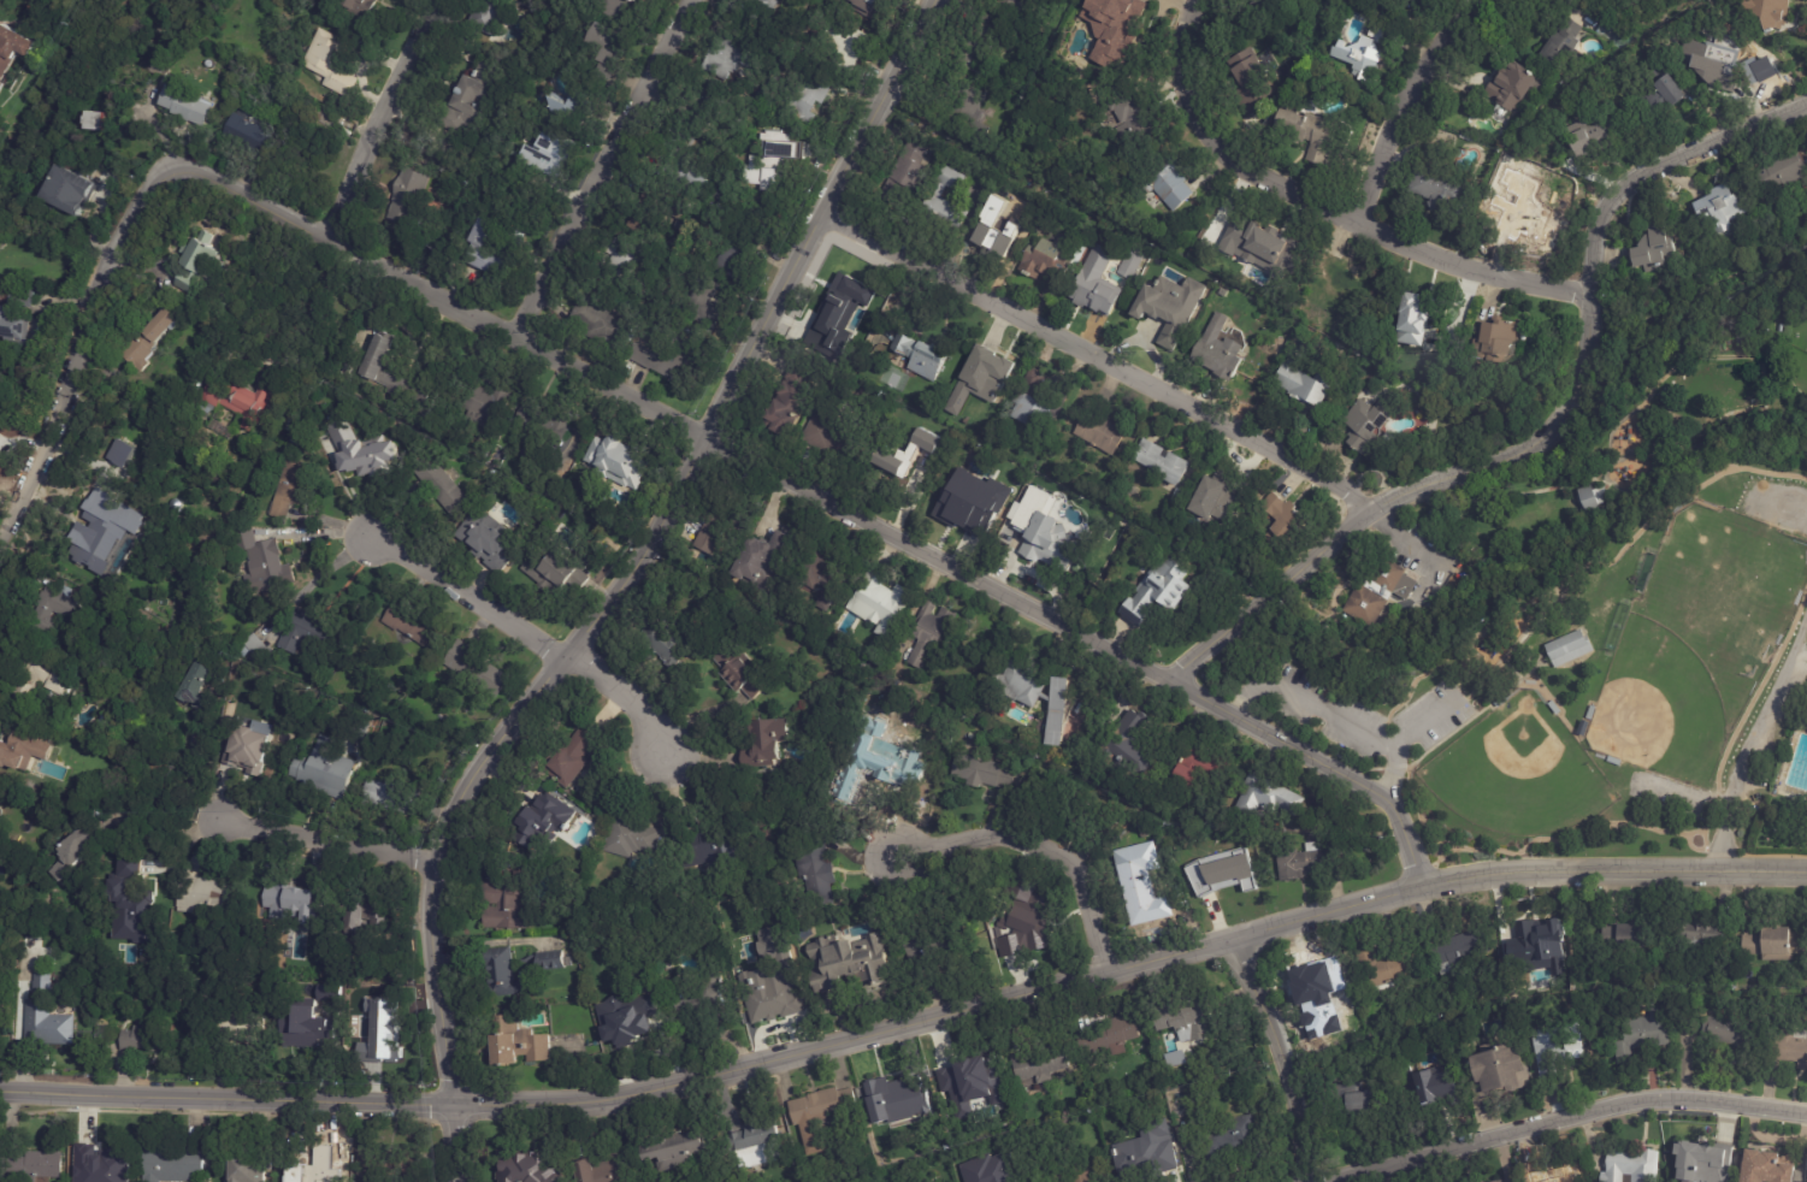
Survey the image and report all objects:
building: (1412, 0)
building: (1023, 1)
building: (1415, 1)
building: (1005, 6)
building: (361, 7)
building: (757, 7)
building: (870, 7)
building: (620, 8)
building: (1765, 13)
building: (488, 17)
building: (1112, 29)
building: (1043, 36)
building: (975, 42)
building: (848, 45)
building: (1561, 45)
building: (1793, 46)
building: (609, 52)
road: (904, 52)
building: (13, 53)
building: (733, 59)
building: (1357, 59)
building: (1707, 63)
building: (332, 64)
building: (154, 70)
road: (396, 78)
building: (1246, 81)
building: (1512, 85)
road: (1401, 97)
building: (468, 99)
building: (1655, 100)
building: (810, 101)
building: (705, 104)
building: (189, 108)
building: (572, 108)
building: (1134, 113)
building: (968, 116)
building: (100, 125)
building: (1303, 131)
building: (252, 135)
building: (1588, 140)
building: (789, 152)
building: (555, 161)
building: (772, 161)
building: (690, 166)
building: (908, 166)
road: (606, 169)
building: (1779, 171)
building: (1165, 185)
building: (1434, 189)
building: (69, 191)
road: (354, 199)
road: (1325, 201)
building: (413, 202)
building: (941, 202)
building: (1718, 206)
road: (276, 207)
building: (661, 211)
building: (1514, 217)
building: (994, 231)
building: (1262, 243)
building: (707, 244)
building: (1652, 248)
building: (504, 256)
building: (1049, 259)
building: (740, 261)
building: (201, 262)
building: (1129, 264)
building: (626, 265)
road: (789, 268)
building: (1344, 278)
building: (1097, 284)
building: (1221, 292)
building: (22, 299)
building: (837, 300)
road: (309, 306)
building: (705, 307)
building: (1155, 312)
building: (1415, 315)
building: (1777, 320)
building: (608, 326)
road: (79, 329)
building: (12, 330)
building: (1744, 336)
building: (1499, 337)
building: (153, 339)
road: (539, 348)
building: (1217, 351)
building: (917, 355)
road: (1099, 357)
building: (673, 361)
building: (395, 372)
building: (987, 374)
building: (1303, 382)
building: (240, 400)
building: (791, 400)
building: (1037, 401)
building: (489, 402)
building: (289, 422)
building: (549, 422)
building: (828, 425)
building: (1363, 429)
road: (1552, 429)
building: (299, 433)
building: (1099, 433)
building: (917, 448)
building: (885, 450)
building: (365, 451)
building: (1, 454)
building: (120, 454)
building: (620, 462)
building: (1161, 462)
building: (113, 468)
building: (444, 485)
building: (293, 489)
road: (671, 490)
building: (1174, 497)
building: (1590, 498)
building: (1212, 501)
building: (965, 506)
road: (1788, 506)
building: (1431, 513)
building: (99, 519)
building: (1280, 520)
building: (709, 521)
building: (1040, 539)
building: (492, 540)
building: (266, 563)
building: (760, 563)
building: (563, 573)
building: (819, 575)
building: (1153, 592)
building: (1383, 592)
road: (470, 595)
building: (878, 603)
building: (53, 611)
building: (418, 626)
building: (932, 632)
building: (312, 633)
road: (1086, 639)
building: (665, 642)
building: (262, 649)
building: (1567, 649)
building: (246, 651)
building: (478, 668)
building: (738, 672)
building: (43, 682)
building: (200, 685)
building: (98, 693)
road: (625, 693)
building: (1037, 697)
park: (1642, 704)
building: (1554, 708)
park: (1658, 708)
road: (1325, 711)
building: (1590, 713)
building: (261, 727)
building: (1582, 728)
building: (880, 743)
building: (762, 744)
road: (1755, 744)
building: (22, 751)
building: (246, 753)
building: (575, 758)
building: (1135, 758)
building: (1613, 761)
building: (327, 770)
building: (1197, 772)
building: (982, 773)
park: (1518, 773)
road: (191, 776)
building: (1264, 797)
building: (392, 798)
road: (460, 798)
building: (1081, 816)
building: (547, 817)
building: (1207, 825)
road: (170, 829)
building: (634, 837)
road: (326, 844)
building: (696, 846)
road: (1041, 849)
building: (76, 853)
building: (128, 863)
building: (1300, 863)
building: (813, 871)
building: (1227, 875)
building: (119, 886)
building: (207, 897)
building: (1134, 898)
building: (296, 900)
building: (510, 903)
building: (26, 915)
building: (370, 916)
building: (35, 920)
building: (1034, 921)
building: (108, 929)
building: (1696, 933)
building: (1623, 934)
building: (1540, 938)
building: (920, 939)
building: (1774, 941)
building: (1453, 952)
building: (28, 962)
building: (553, 962)
building: (844, 963)
road: (1128, 969)
building: (1380, 971)
building: (502, 974)
building: (1307, 976)
building: (1805, 986)
building: (770, 993)
building: (332, 994)
building: (697, 995)
building: (1305, 1011)
building: (48, 1015)
building: (1186, 1015)
building: (384, 1023)
building: (312, 1024)
building: (630, 1027)
building: (106, 1030)
building: (241, 1030)
building: (383, 1030)
building: (1641, 1033)
building: (148, 1034)
building: (1120, 1034)
building: (1728, 1036)
building: (1558, 1041)
building: (522, 1046)
building: (1787, 1047)
road: (1283, 1056)
building: (1045, 1064)
building: (1493, 1069)
building: (975, 1074)
building: (1428, 1085)
building: (898, 1091)
road: (228, 1097)
building: (1345, 1099)
building: (827, 1105)
road: (1564, 1118)
building: (766, 1135)
building: (1235, 1140)
road: (457, 1141)
building: (680, 1148)
building: (176, 1163)
building: (1148, 1163)
building: (396, 1164)
building: (1629, 1165)
building: (40, 1166)
building: (608, 1166)
building: (537, 1168)
building: (1706, 1168)
building: (1765, 1168)
building: (250, 1169)
building: (105, 1170)
building: (1551, 1174)
building: (996, 1175)
building: (72, 1176)
building: (1087, 1177)
building: (1494, 1181)

